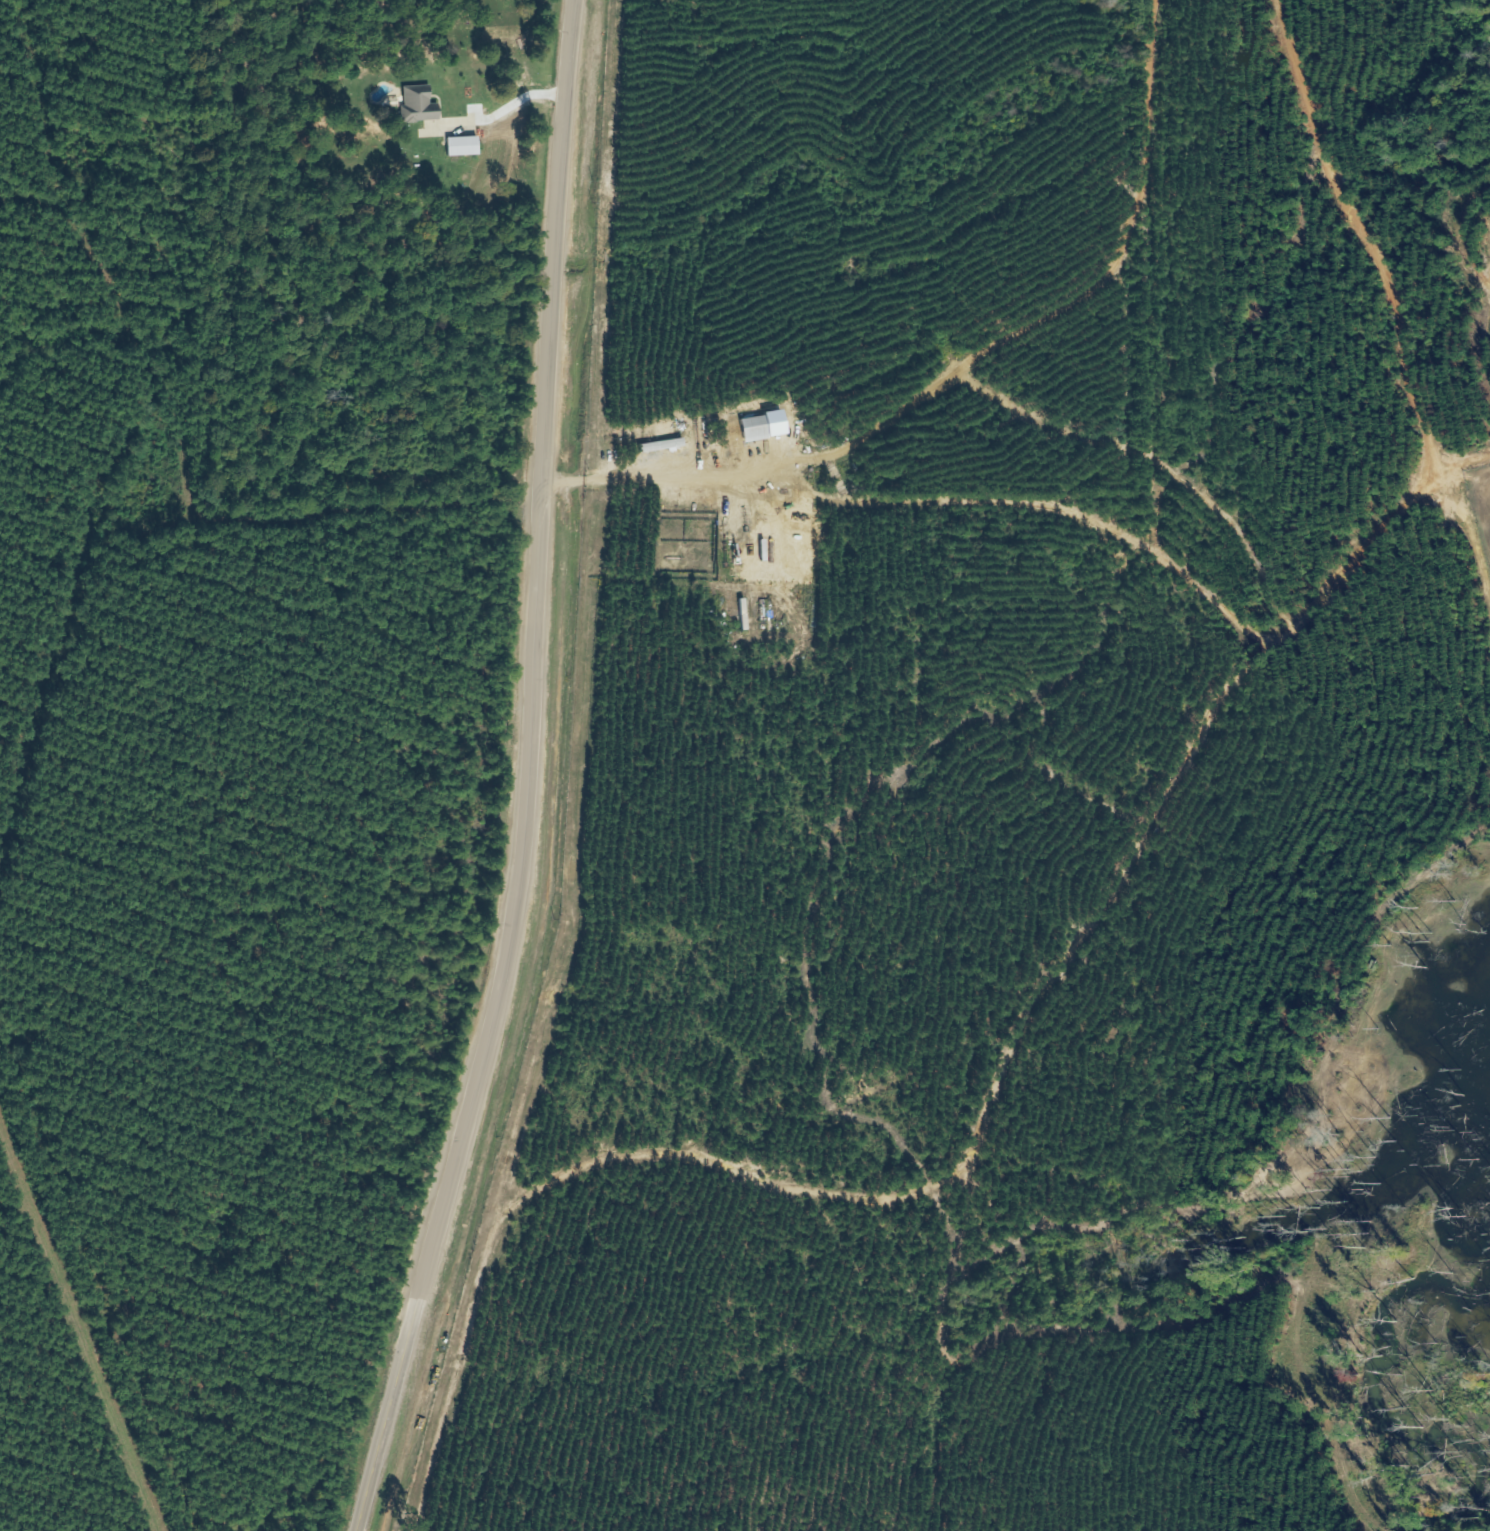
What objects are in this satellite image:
building: (420, 107)
building: (462, 146)
building: (754, 429)
road: (528, 774)

